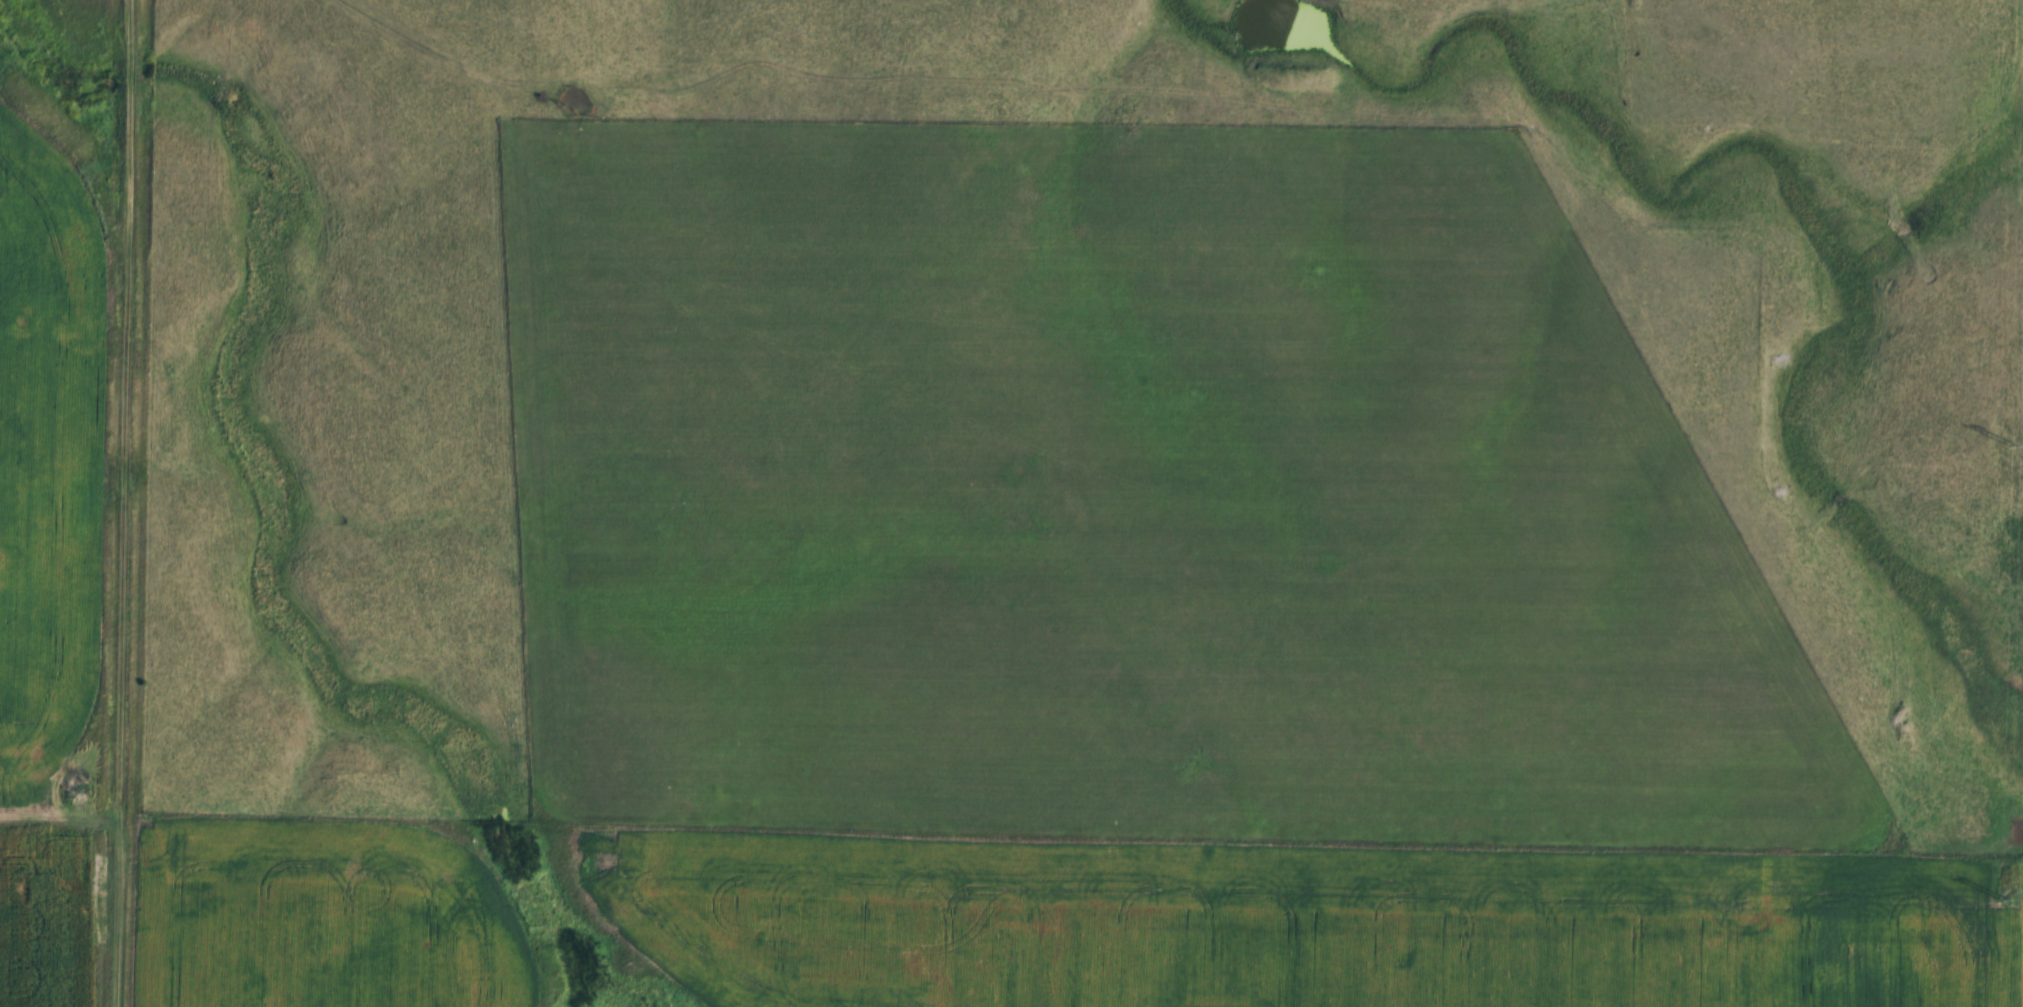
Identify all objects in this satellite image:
power tower: (2011, 448)
power tower: (2002, 900)

